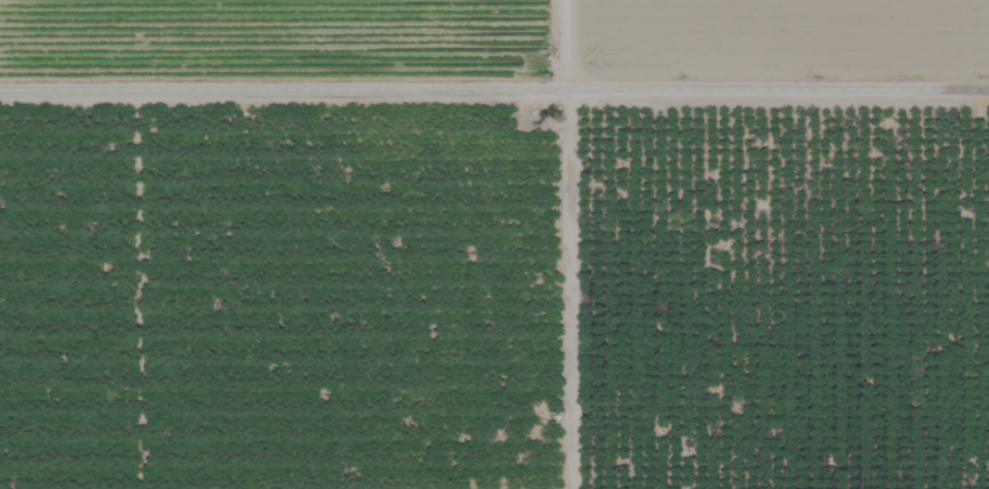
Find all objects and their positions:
road: (555, 47)
road: (494, 94)

